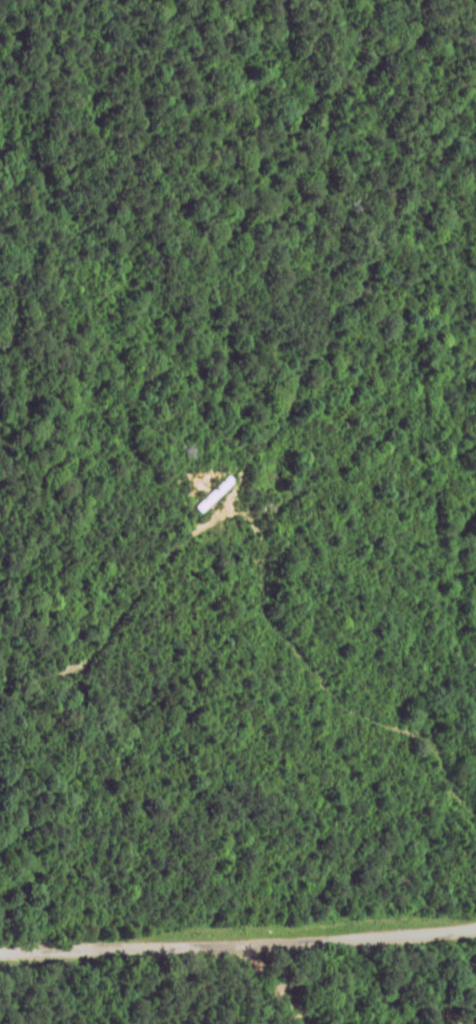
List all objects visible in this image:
road: (17, 972)
road: (238, 972)

